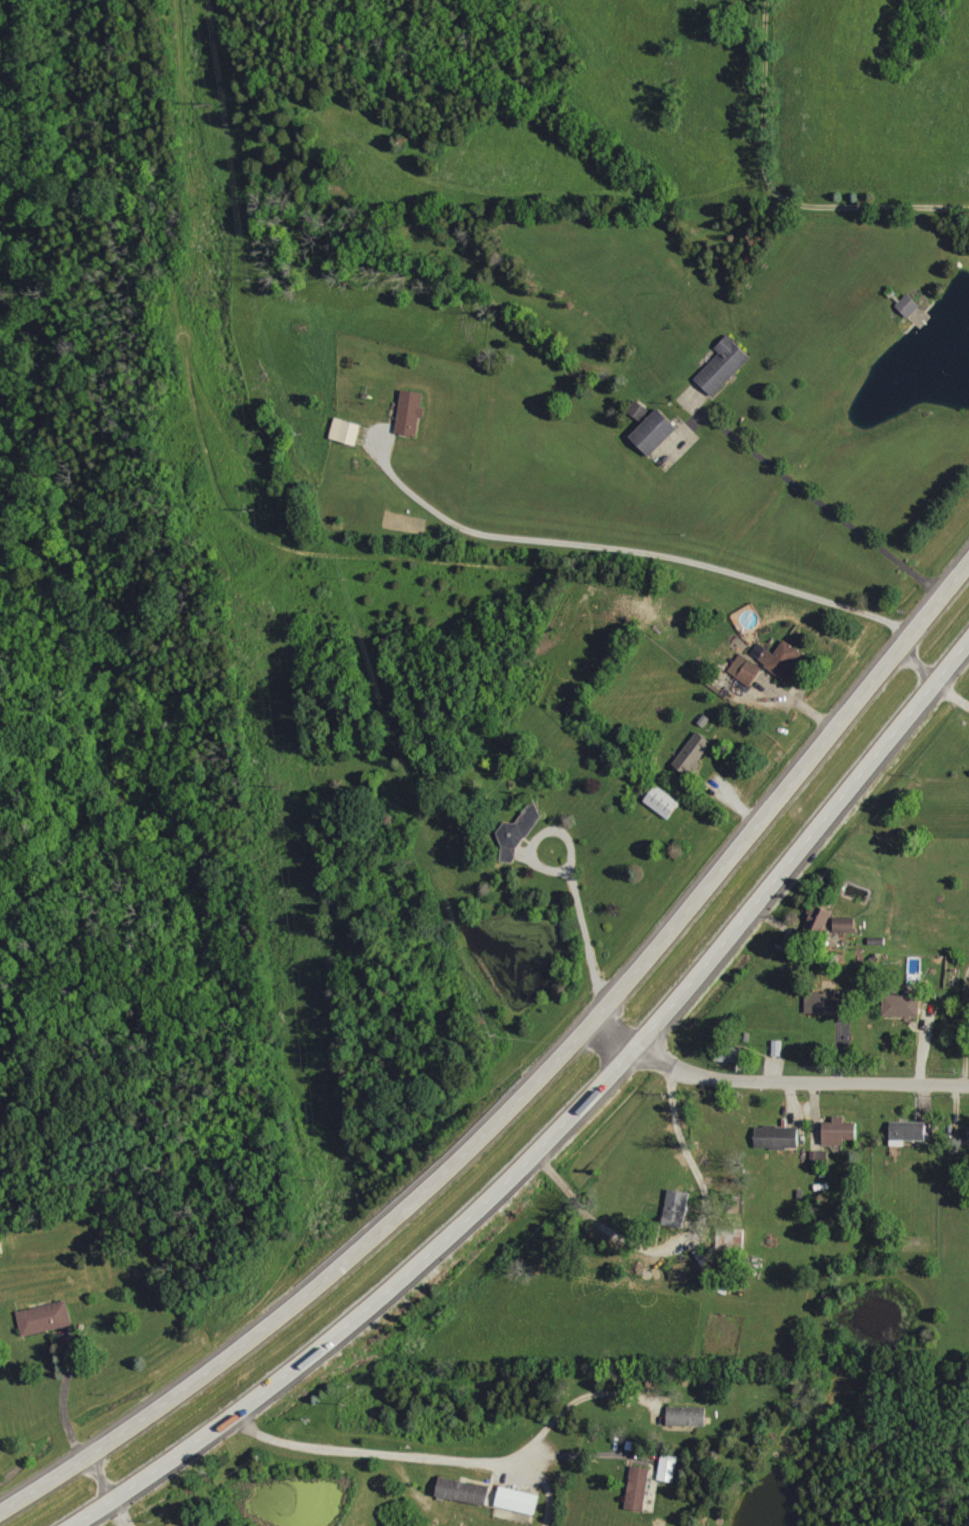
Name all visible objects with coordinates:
power tower: (204, 102)
road: (777, 193)
building: (909, 305)
building: (724, 365)
building: (411, 412)
building: (345, 431)
building: (655, 431)
road: (832, 495)
power tower: (249, 507)
road: (624, 548)
building: (779, 657)
building: (746, 669)
road: (932, 680)
building: (694, 752)
building: (663, 802)
building: (518, 833)
road: (538, 837)
building: (818, 921)
building: (845, 924)
road: (583, 936)
building: (826, 1004)
building: (904, 1004)
road: (965, 1023)
road: (770, 1078)
road: (528, 1086)
road: (563, 1125)
building: (968, 1128)
building: (841, 1132)
building: (908, 1132)
building: (778, 1137)
road: (685, 1146)
building: (816, 1159)
building: (677, 1208)
building: (45, 1317)
road: (575, 1402)
building: (688, 1415)
road: (70, 1427)
road: (378, 1453)
road: (585, 1455)
building: (669, 1467)
building: (638, 1487)
building: (463, 1490)
road: (543, 1493)
building: (518, 1500)
road: (119, 1514)

